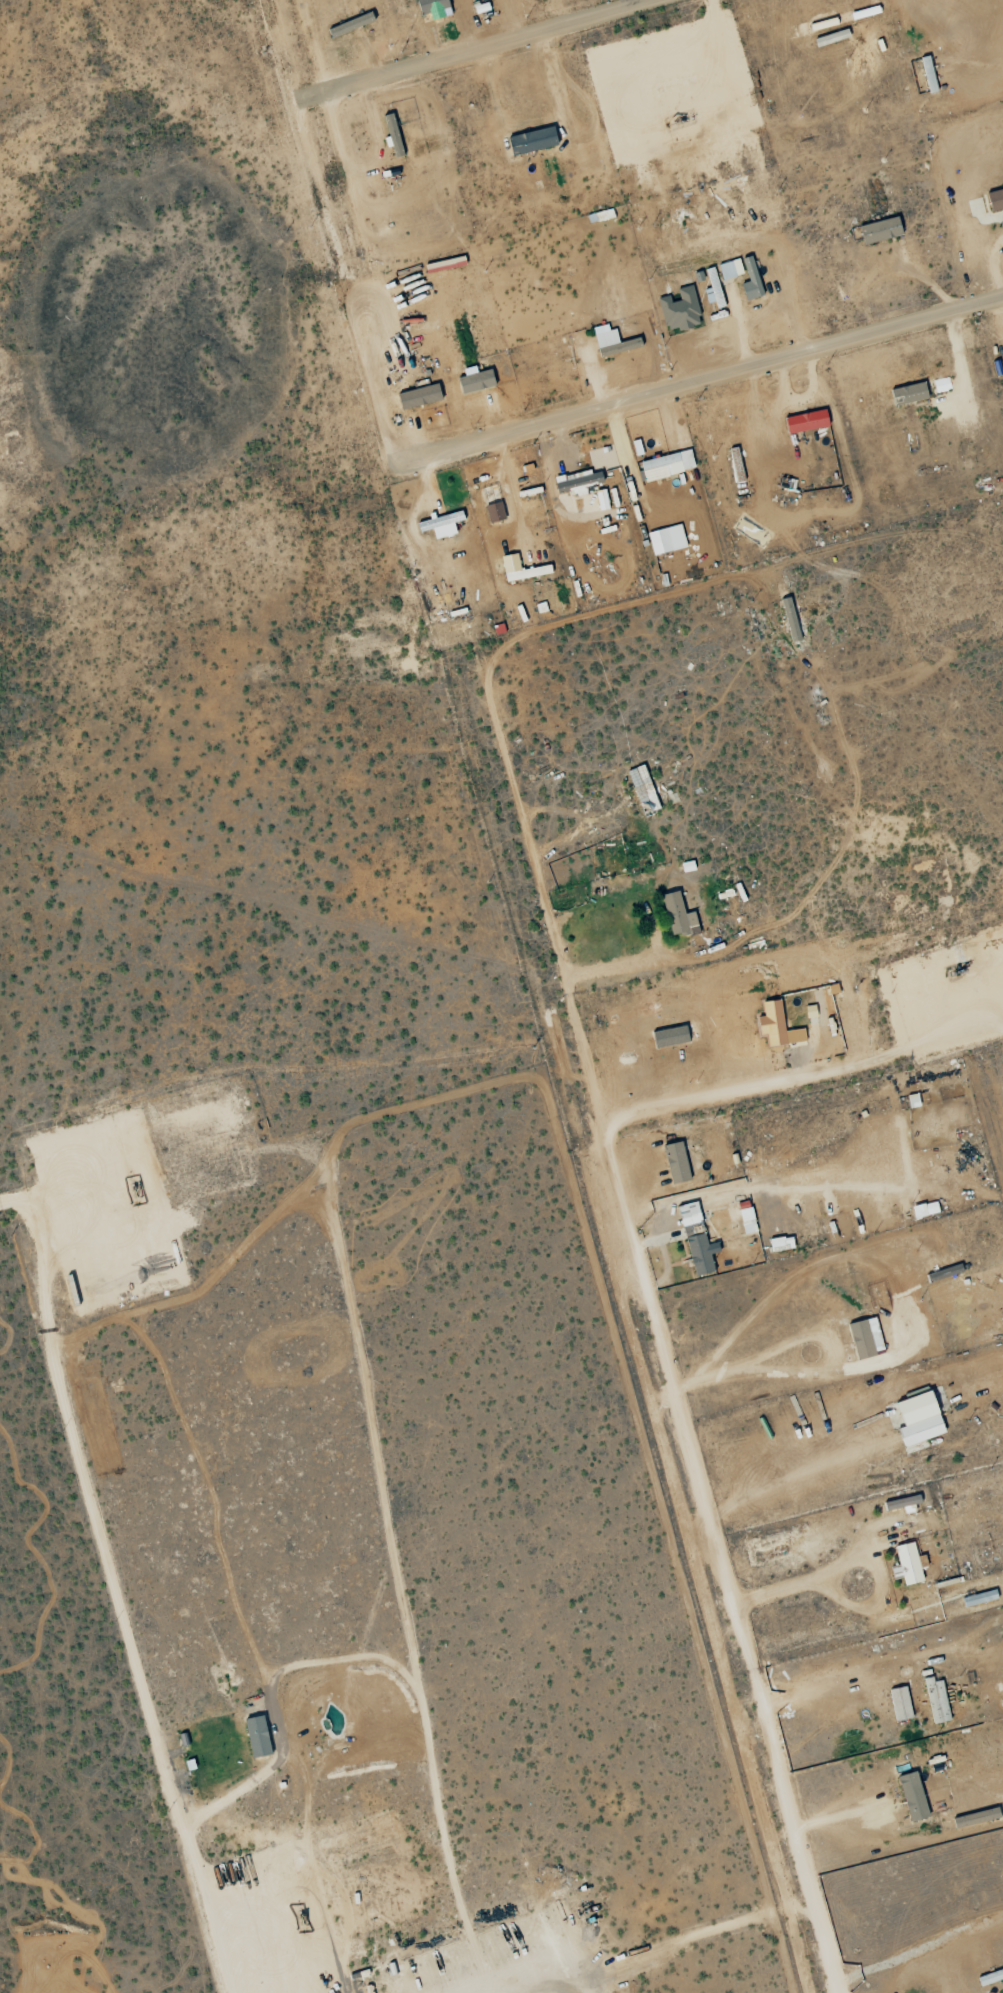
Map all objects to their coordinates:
building: (430, 6)
building: (349, 25)
road: (486, 44)
building: (927, 74)
building: (391, 136)
building: (530, 141)
road: (364, 171)
building: (994, 200)
building: (878, 231)
building: (729, 270)
building: (749, 281)
building: (678, 311)
building: (611, 342)
road: (712, 376)
building: (473, 381)
building: (941, 385)
building: (907, 394)
building: (417, 397)
road: (379, 411)
building: (804, 422)
building: (665, 466)
building: (576, 483)
building: (600, 500)
building: (493, 513)
building: (439, 526)
building: (658, 542)
building: (509, 568)
building: (789, 620)
building: (675, 915)
road: (493, 945)
building: (809, 1012)
building: (775, 1026)
building: (668, 1037)
building: (911, 1101)
building: (674, 1163)
building: (923, 1210)
building: (745, 1221)
building: (694, 1241)
building: (779, 1244)
building: (943, 1273)
building: (863, 1338)
building: (916, 1419)
building: (915, 1447)
building: (900, 1503)
road: (722, 1559)
building: (906, 1565)
building: (978, 1599)
building: (935, 1701)
building: (898, 1704)
building: (255, 1737)
building: (910, 1797)

